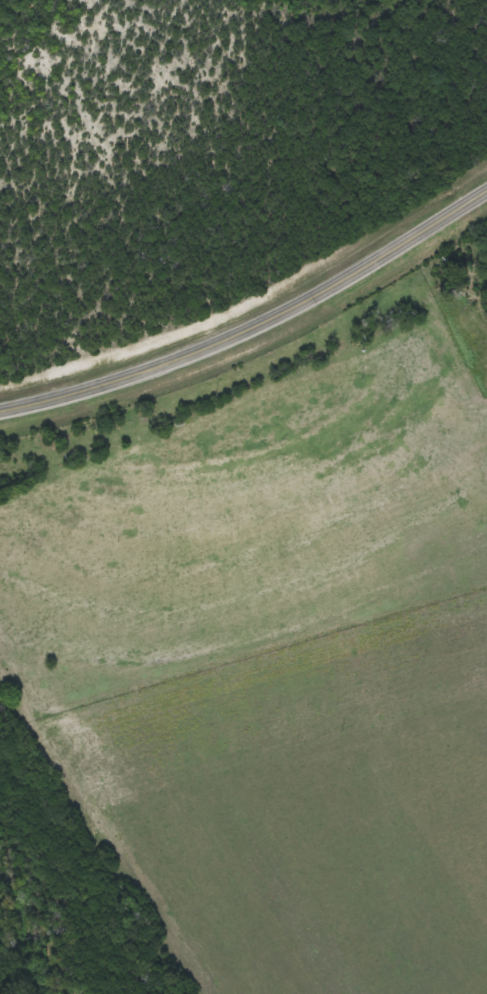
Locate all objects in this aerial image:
road: (253, 327)

